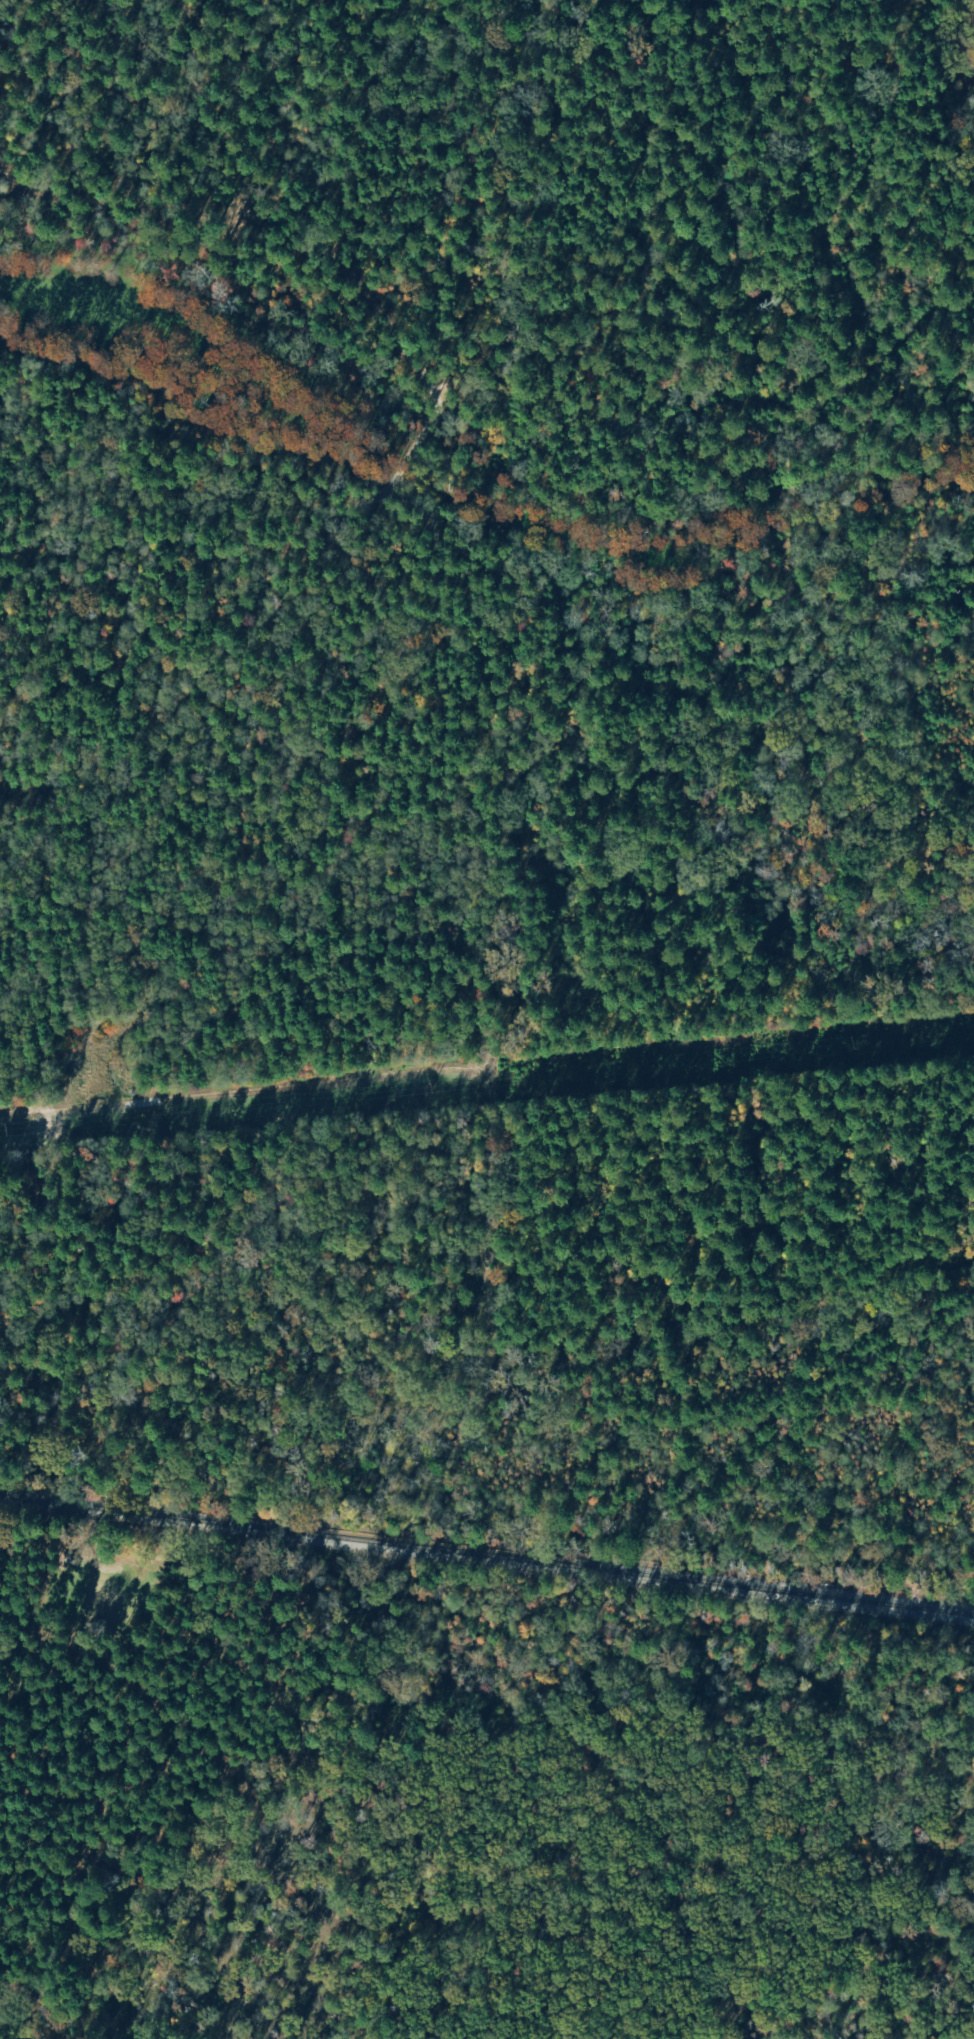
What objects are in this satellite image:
power tower: (432, 1086)
power tower: (6, 1128)
railway: (486, 1556)

